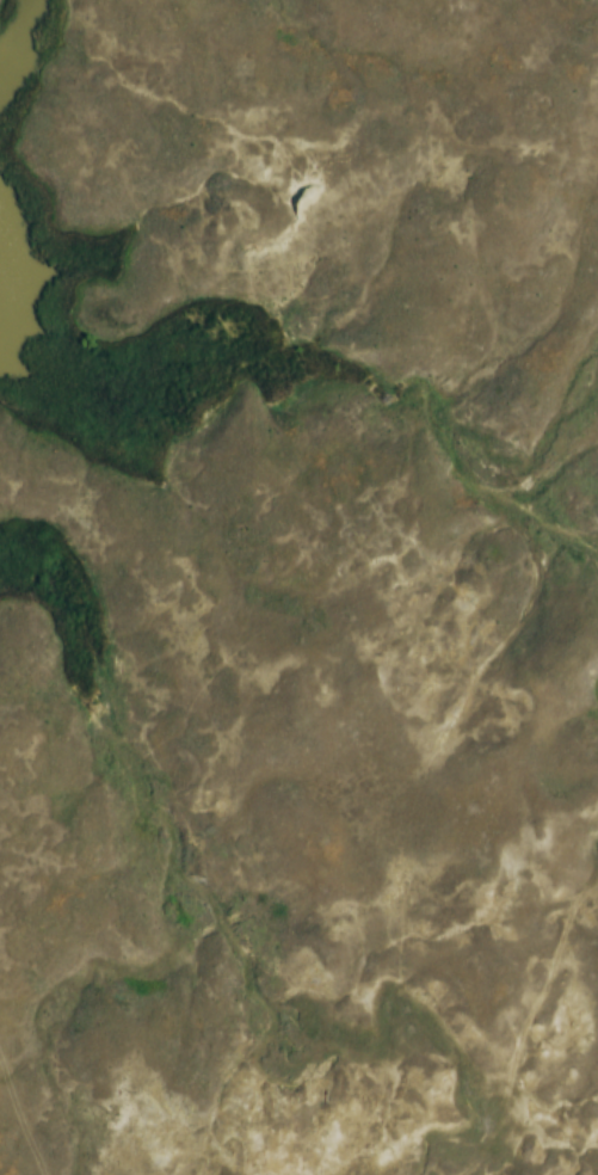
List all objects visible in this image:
road: (20, 1120)

